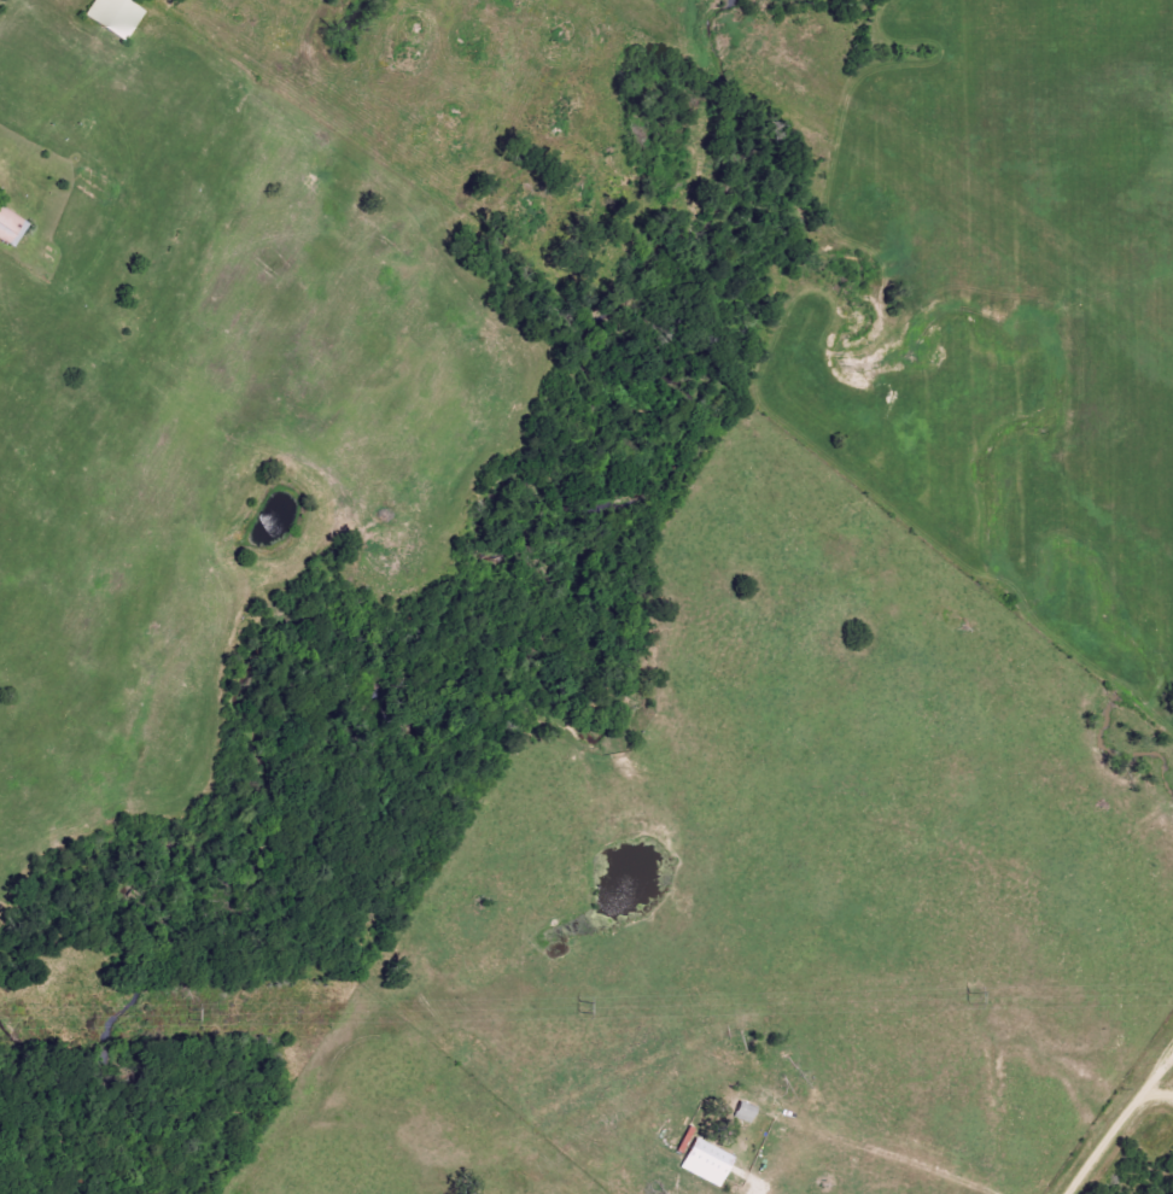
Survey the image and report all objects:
building: (115, 17)
building: (10, 228)
power tower: (963, 1000)
power tower: (574, 1009)
power tower: (188, 1016)
building: (743, 1112)
road: (1119, 1119)
building: (704, 1158)

